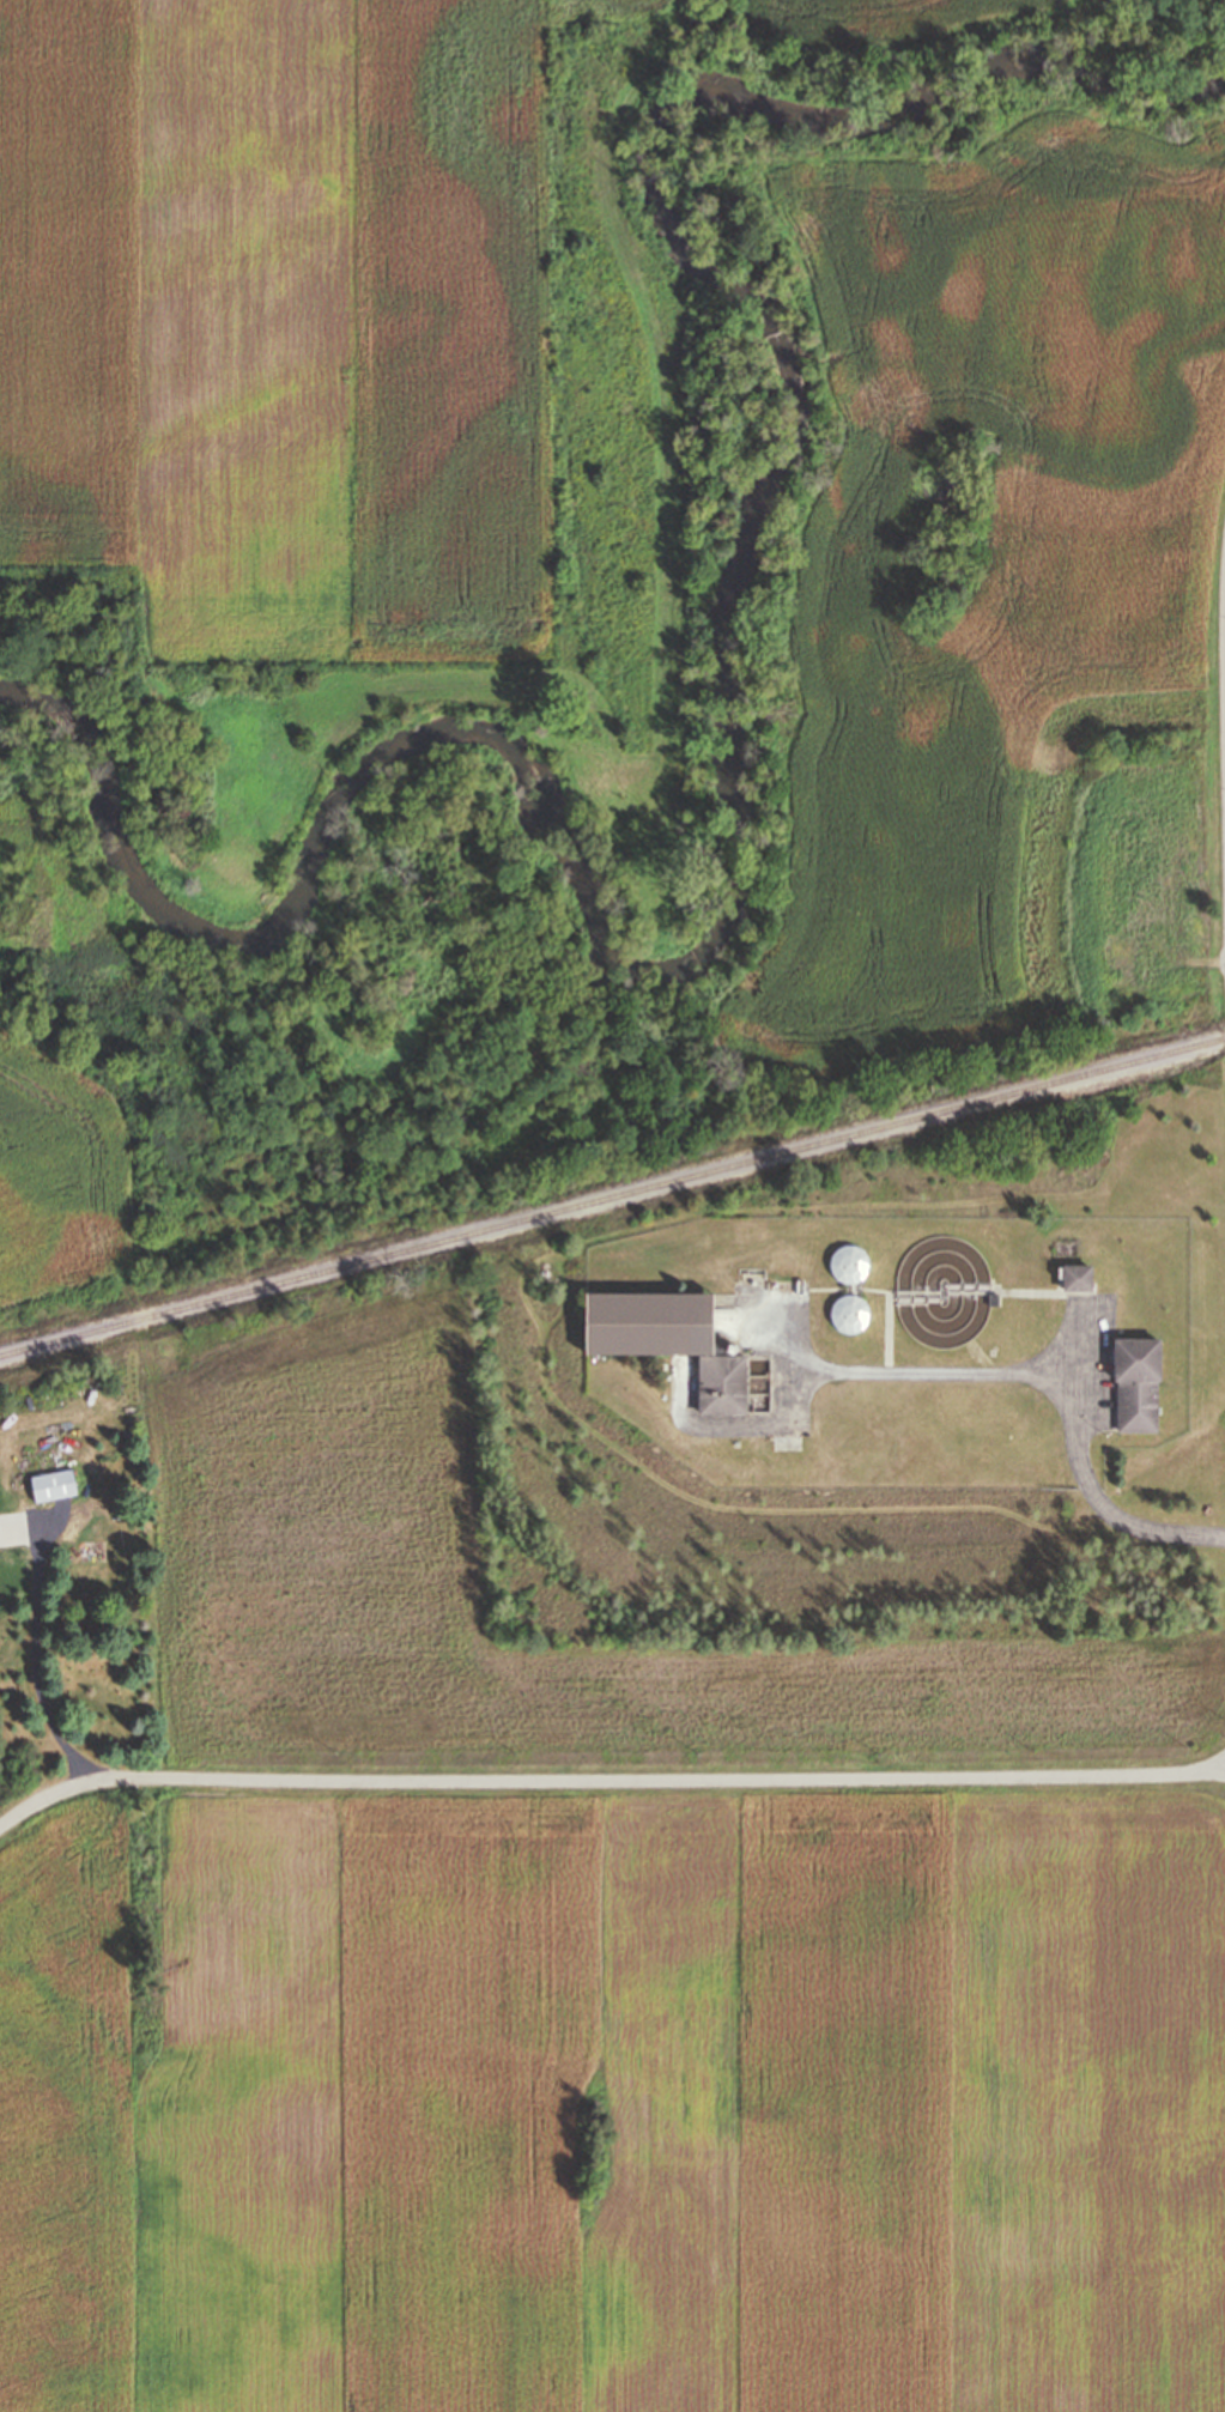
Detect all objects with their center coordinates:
railway: (612, 1196)
building: (854, 1263)
building: (1074, 1274)
building: (854, 1314)
building: (672, 1339)
road: (792, 1364)
road: (935, 1375)
building: (1135, 1380)
road: (1092, 1483)
building: (53, 1485)
building: (97, 1560)
road: (38, 1673)
road: (1219, 1765)
road: (607, 1781)

